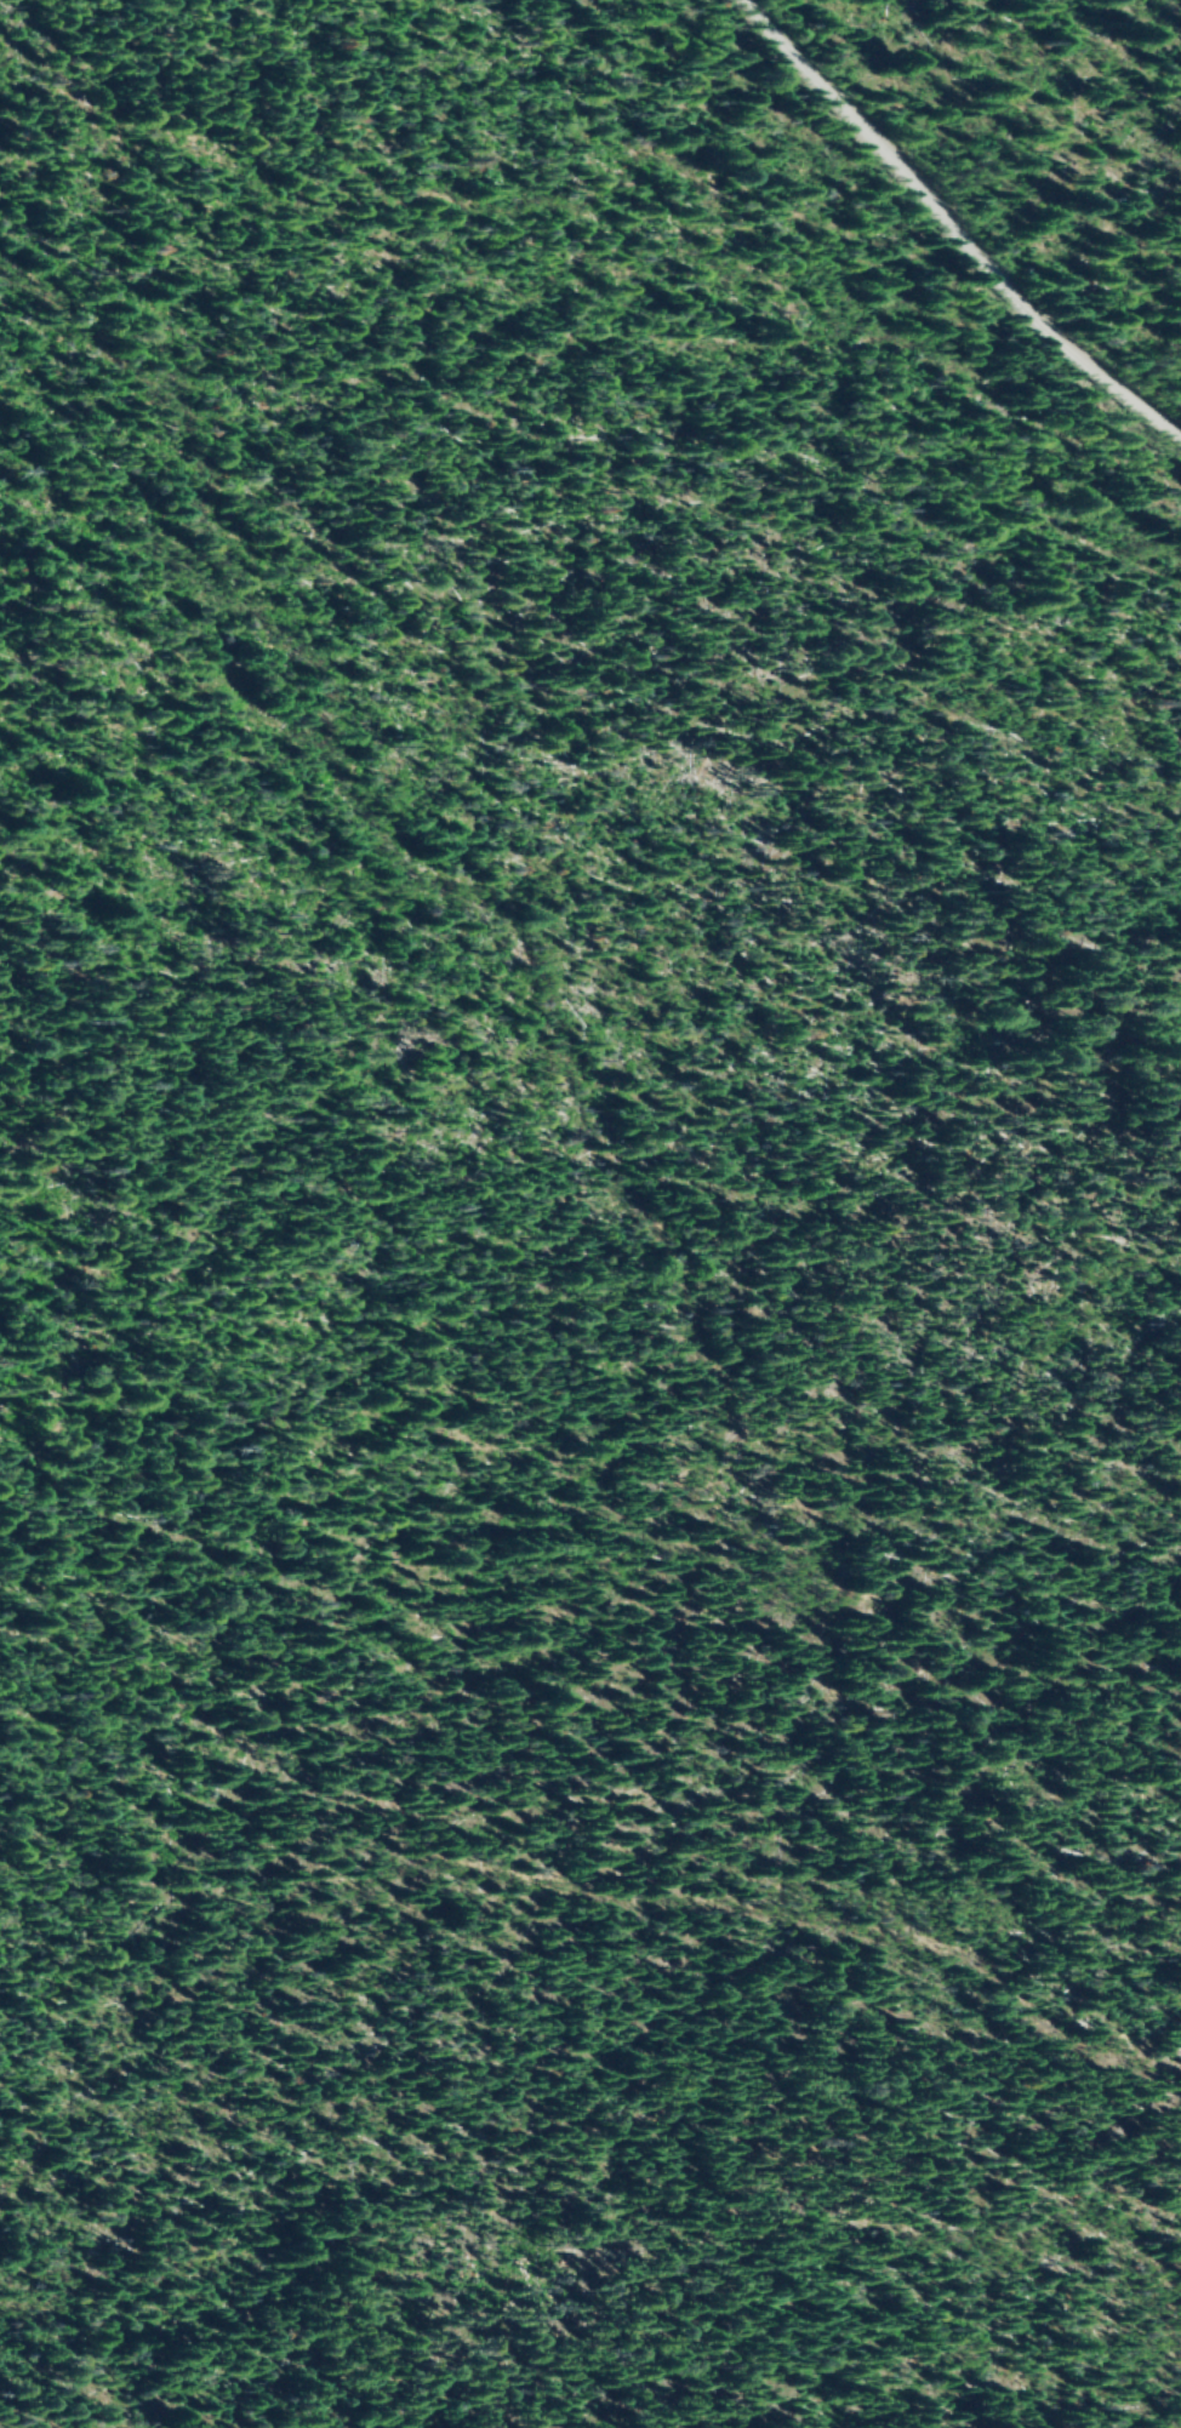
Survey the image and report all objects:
road: (947, 230)
road: (490, 1946)
road: (1156, 2023)

